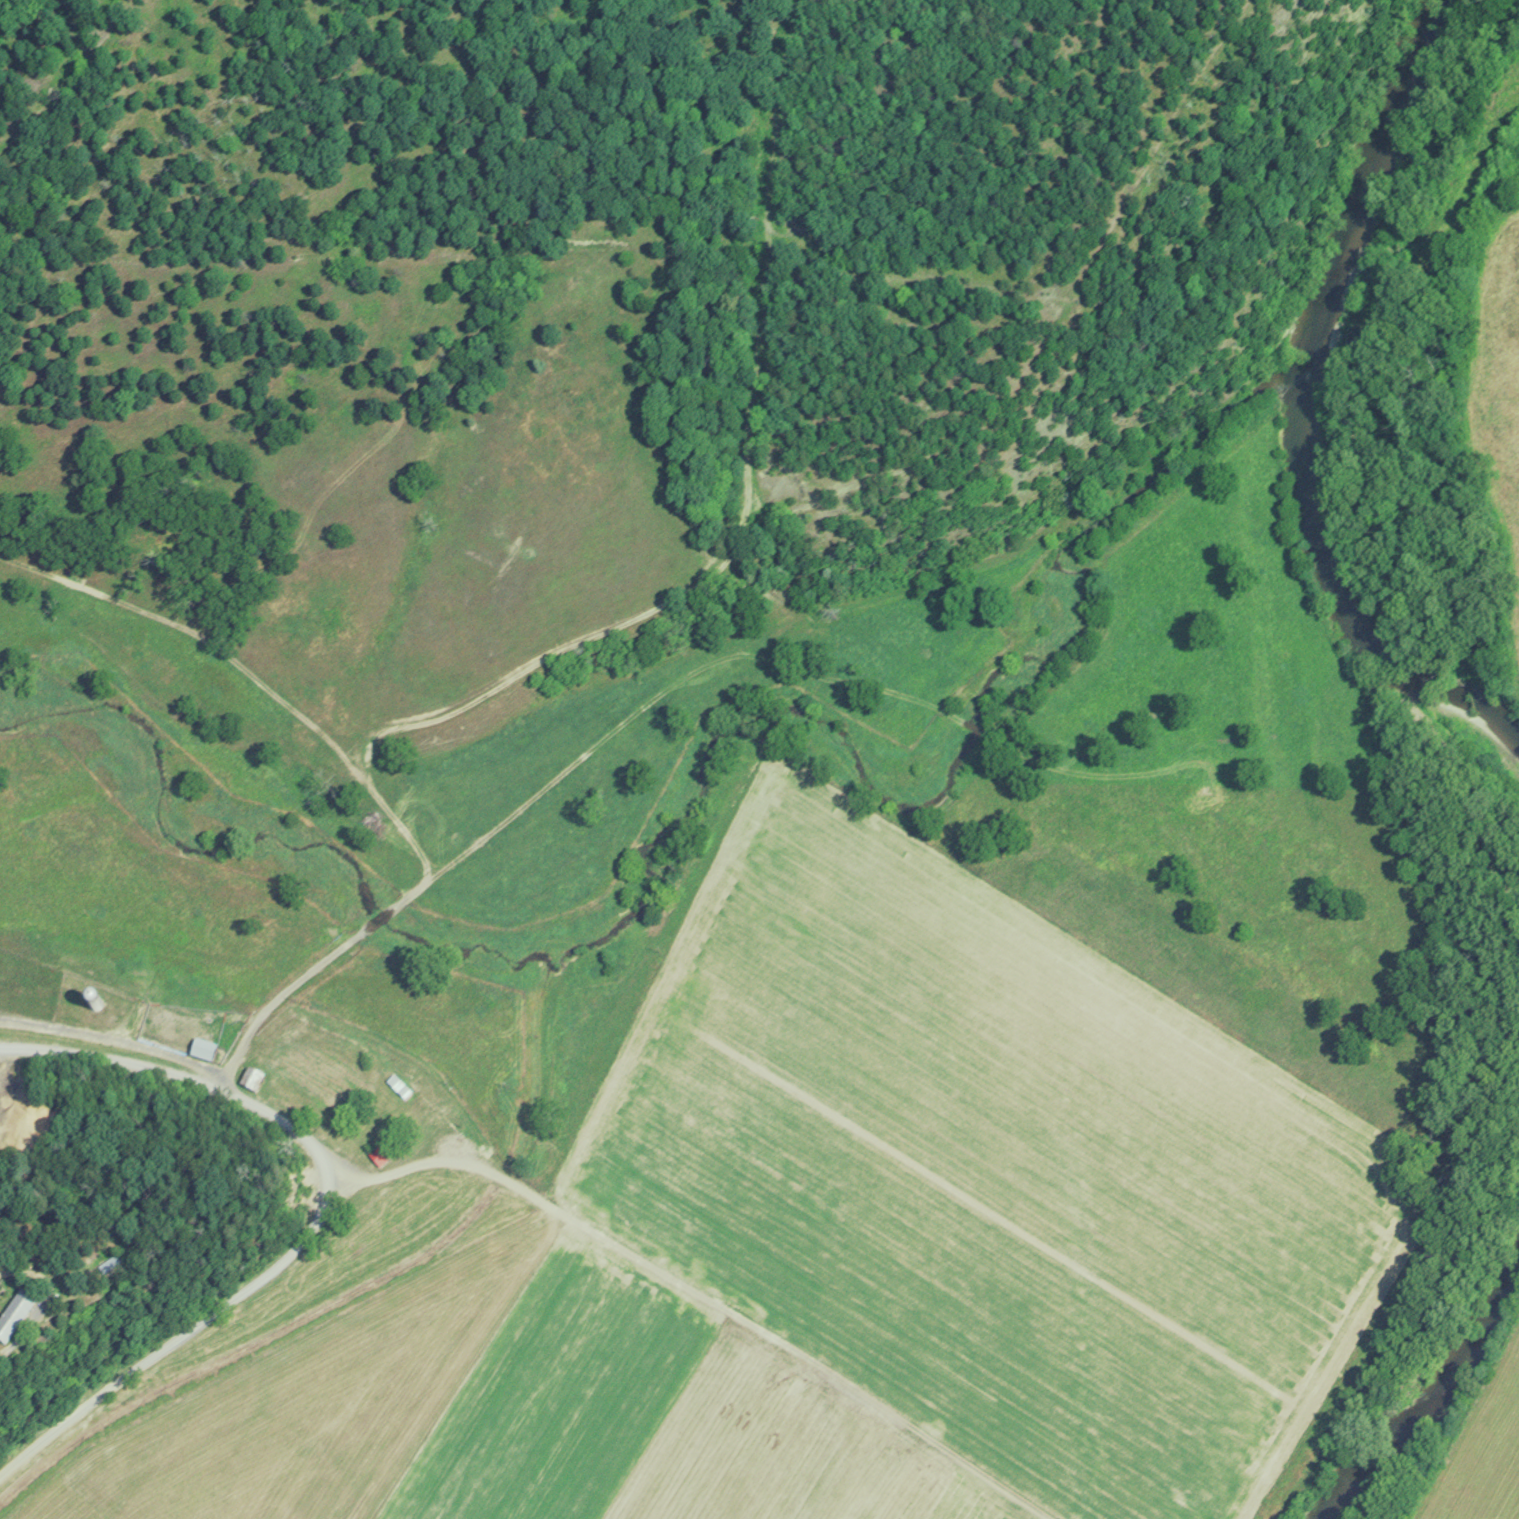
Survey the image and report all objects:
river: (1314, 412)
building: (202, 1049)
building: (251, 1077)
building: (398, 1085)
building: (385, 1119)
building: (108, 1262)
building: (14, 1312)
river: (1435, 1399)

